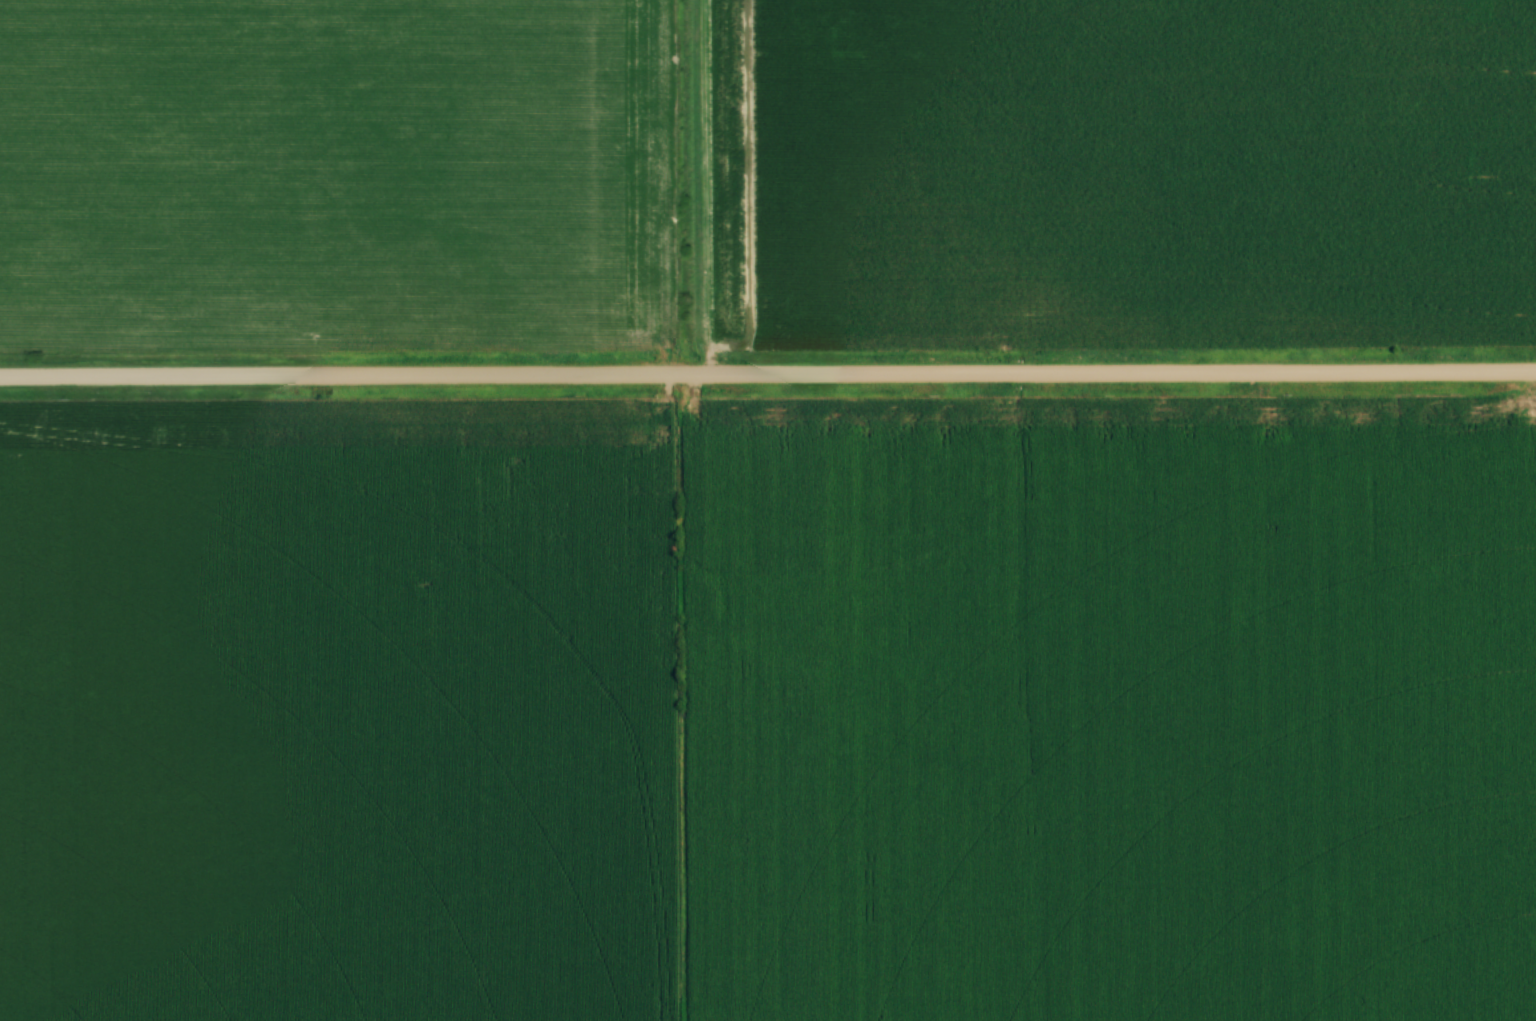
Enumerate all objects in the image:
road: (767, 375)

